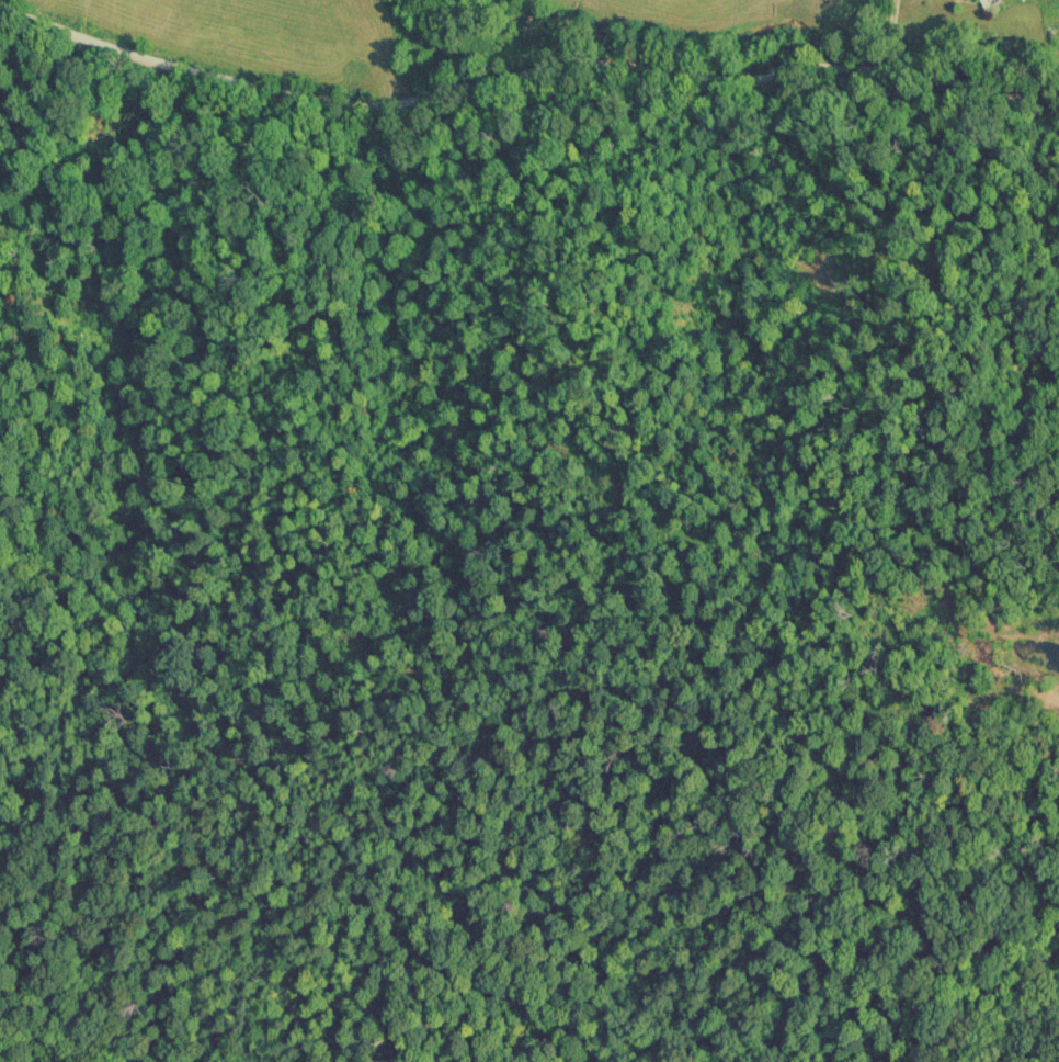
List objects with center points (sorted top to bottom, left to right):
road: (882, 21)
road: (446, 60)
road: (978, 60)

